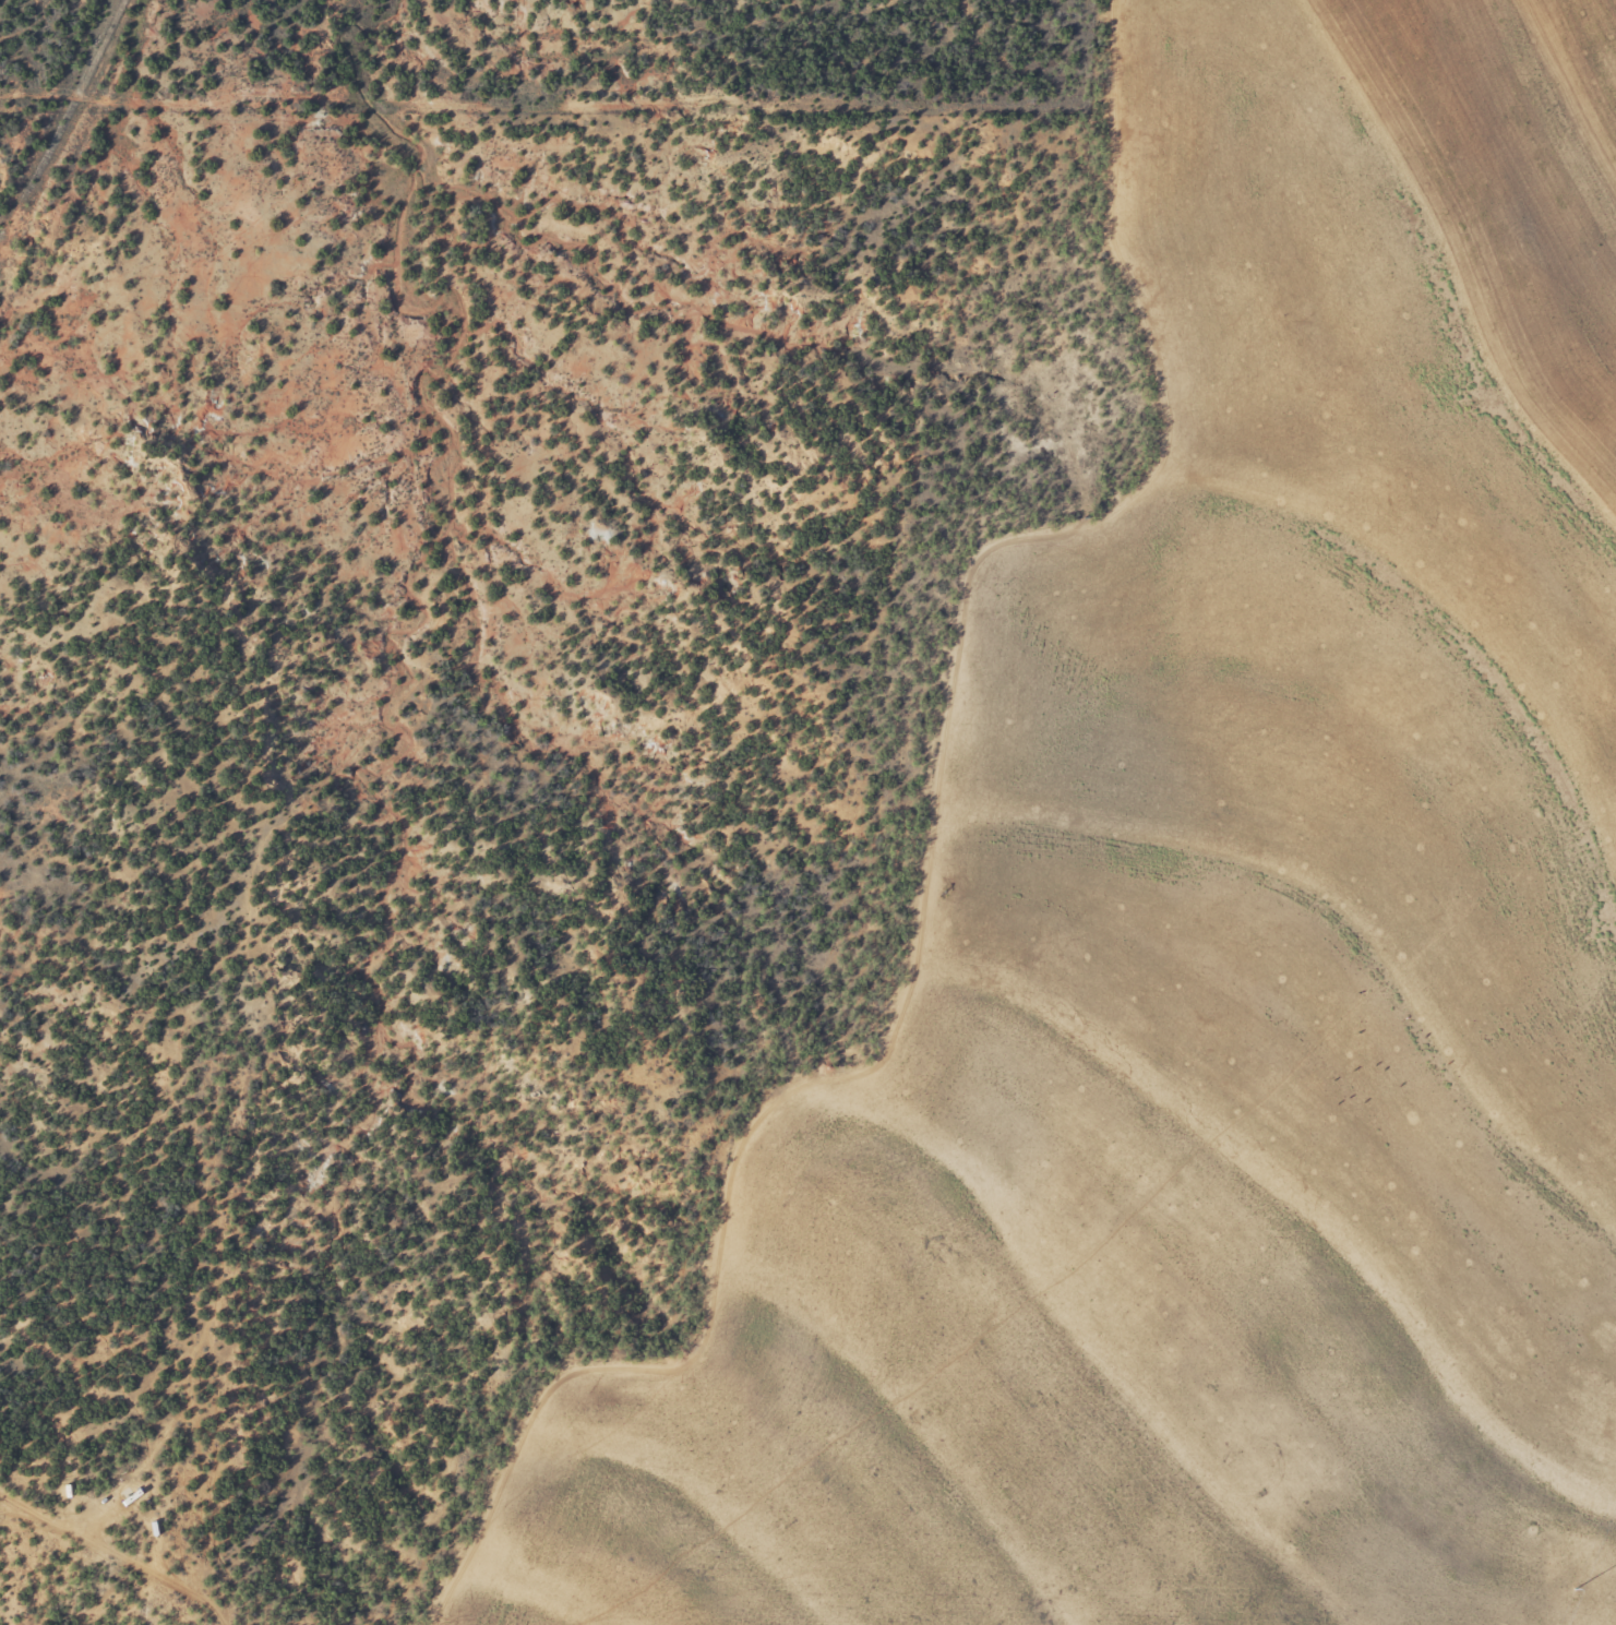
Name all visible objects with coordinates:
railway: (72, 136)
power tower: (1572, 1593)

